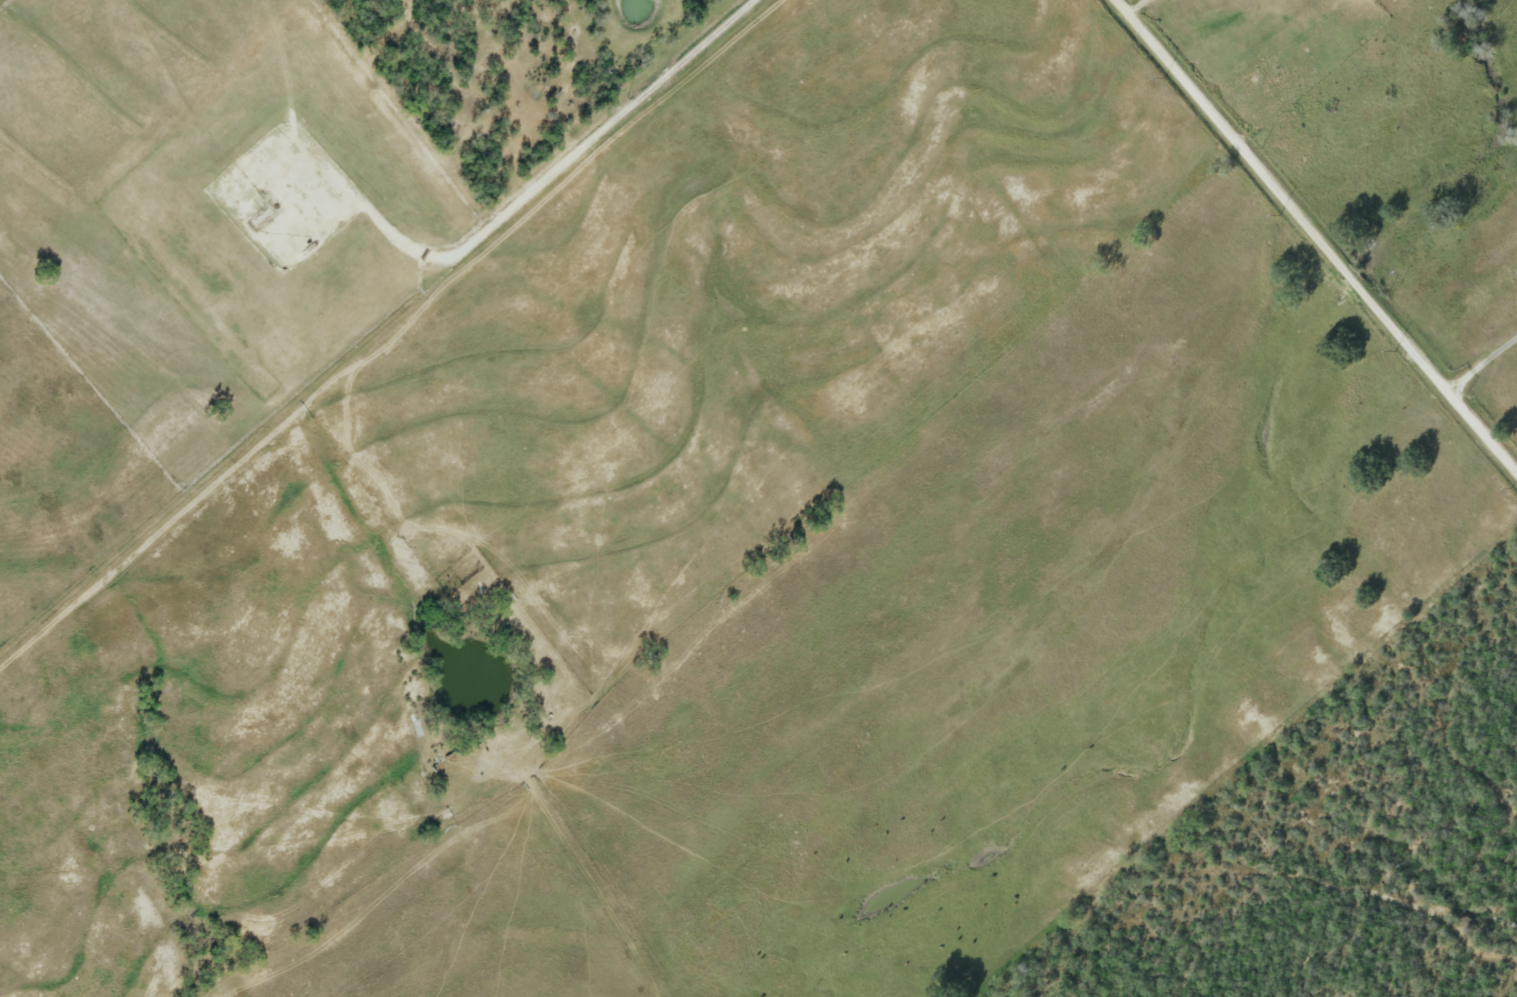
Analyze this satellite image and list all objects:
road: (1138, 8)
road: (1316, 236)
road: (1481, 365)

